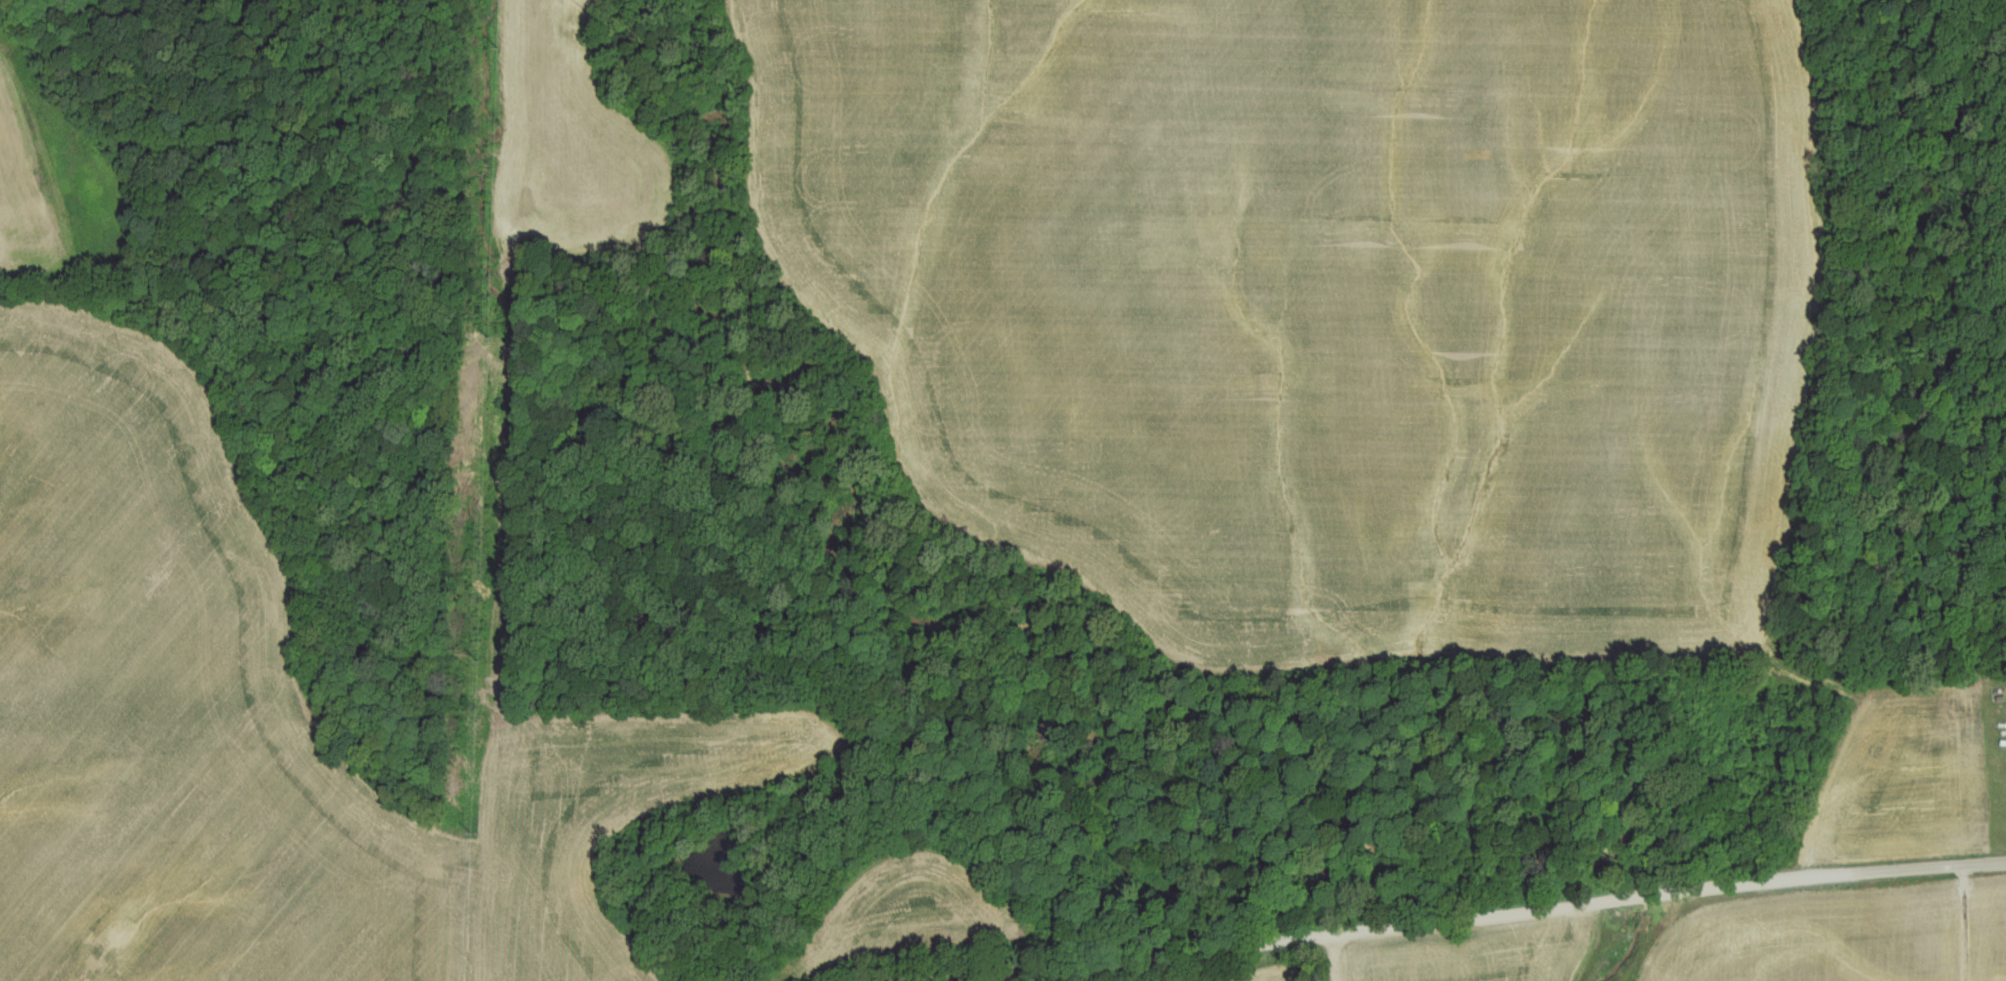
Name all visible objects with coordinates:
road: (1471, 919)

